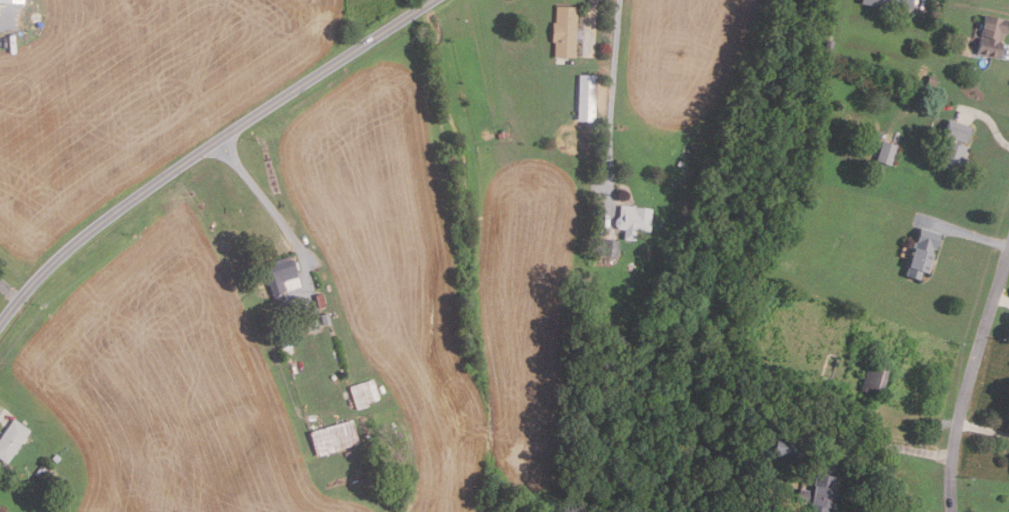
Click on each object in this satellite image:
building: (13, 1)
building: (888, 3)
road: (924, 4)
road: (591, 21)
building: (563, 31)
building: (990, 36)
building: (828, 46)
road: (1008, 48)
building: (929, 82)
road: (609, 88)
building: (585, 97)
road: (990, 121)
building: (952, 145)
road: (205, 149)
building: (885, 153)
road: (275, 211)
building: (632, 218)
road: (964, 231)
building: (609, 247)
building: (920, 253)
building: (279, 274)
road: (9, 291)
road: (1002, 298)
building: (318, 301)
building: (324, 319)
building: (284, 344)
building: (873, 379)
road: (970, 381)
building: (363, 394)
road: (2, 418)
road: (984, 429)
building: (332, 438)
building: (10, 439)
building: (783, 446)
road: (886, 446)
building: (55, 458)
building: (43, 470)
building: (818, 494)
building: (776, 509)

